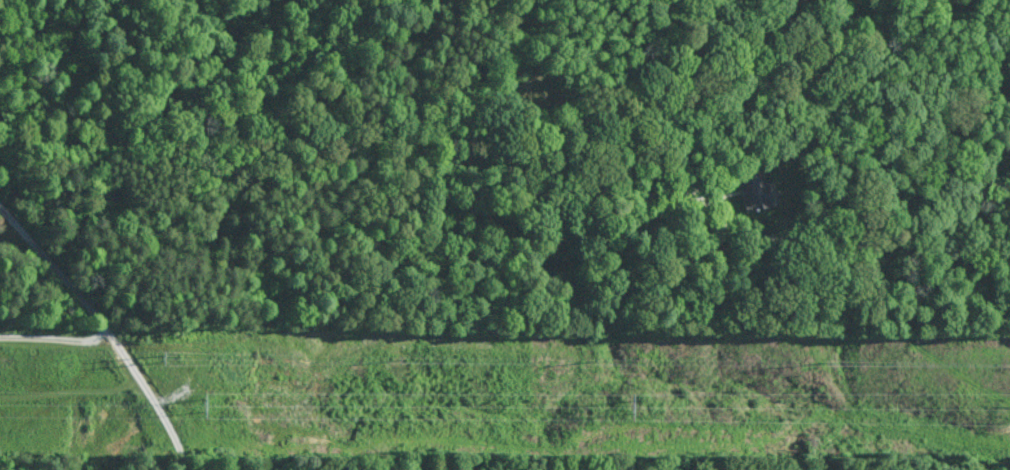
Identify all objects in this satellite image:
road: (421, 138)
building: (754, 192)
road: (108, 326)
road: (55, 335)
power tower: (600, 356)
power tower: (404, 358)
power tower: (167, 359)
power tower: (634, 401)
power tower: (208, 403)

